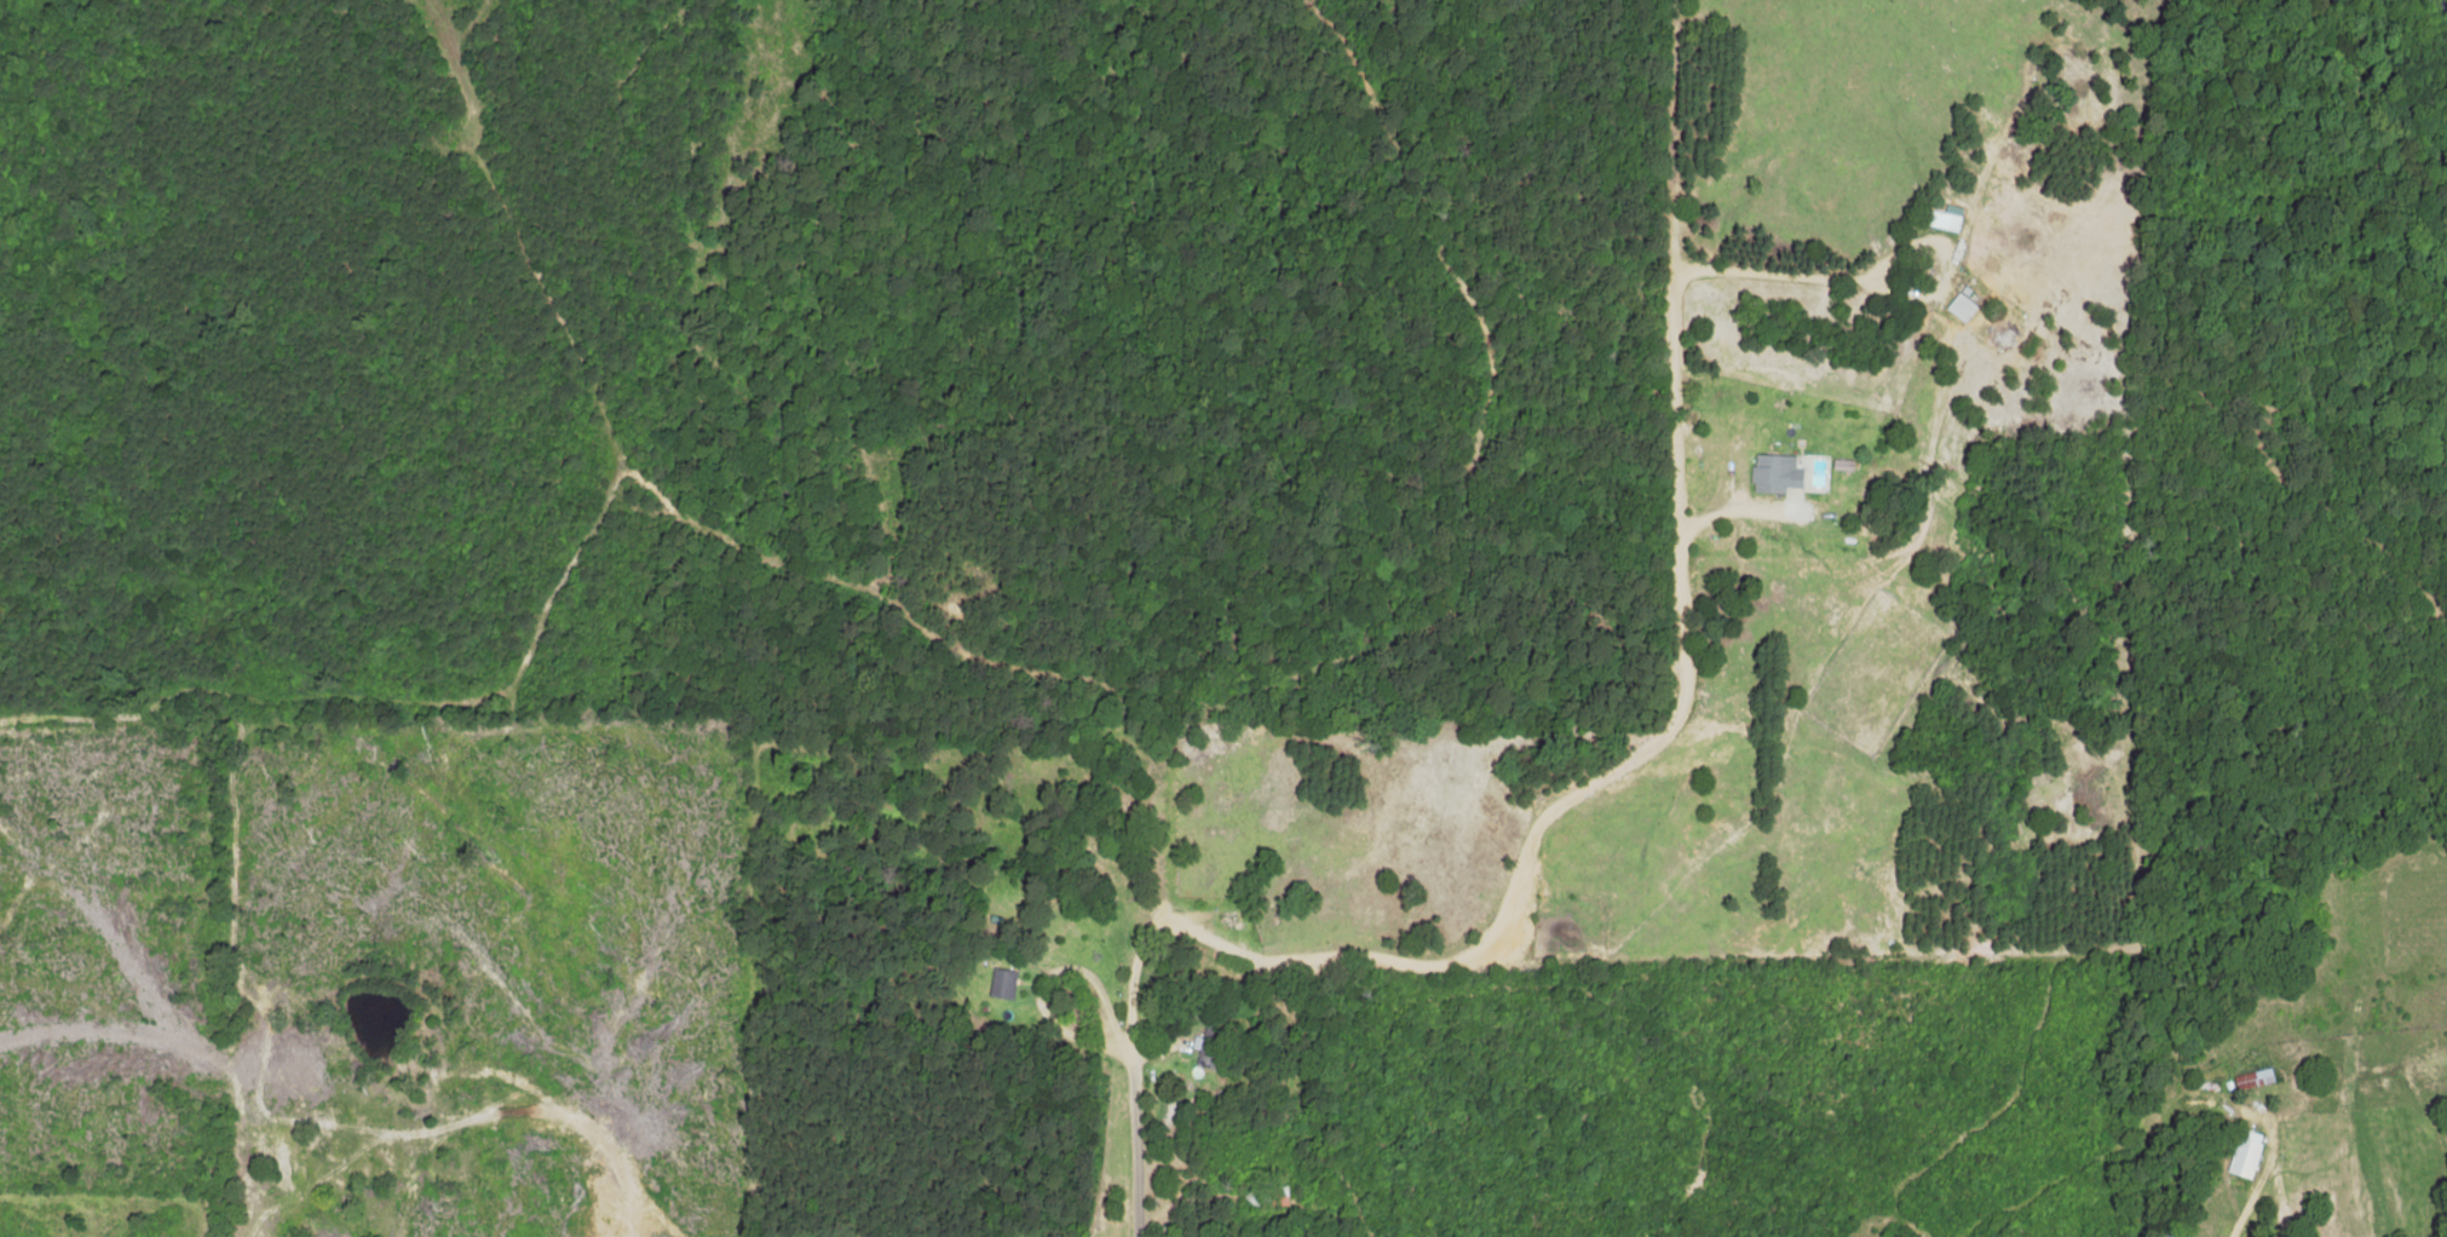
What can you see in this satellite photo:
building: (1944, 217)
building: (1962, 304)
building: (1774, 473)
building: (1002, 983)
building: (1208, 1047)
building: (2253, 1078)
road: (1135, 1107)
building: (2244, 1152)

